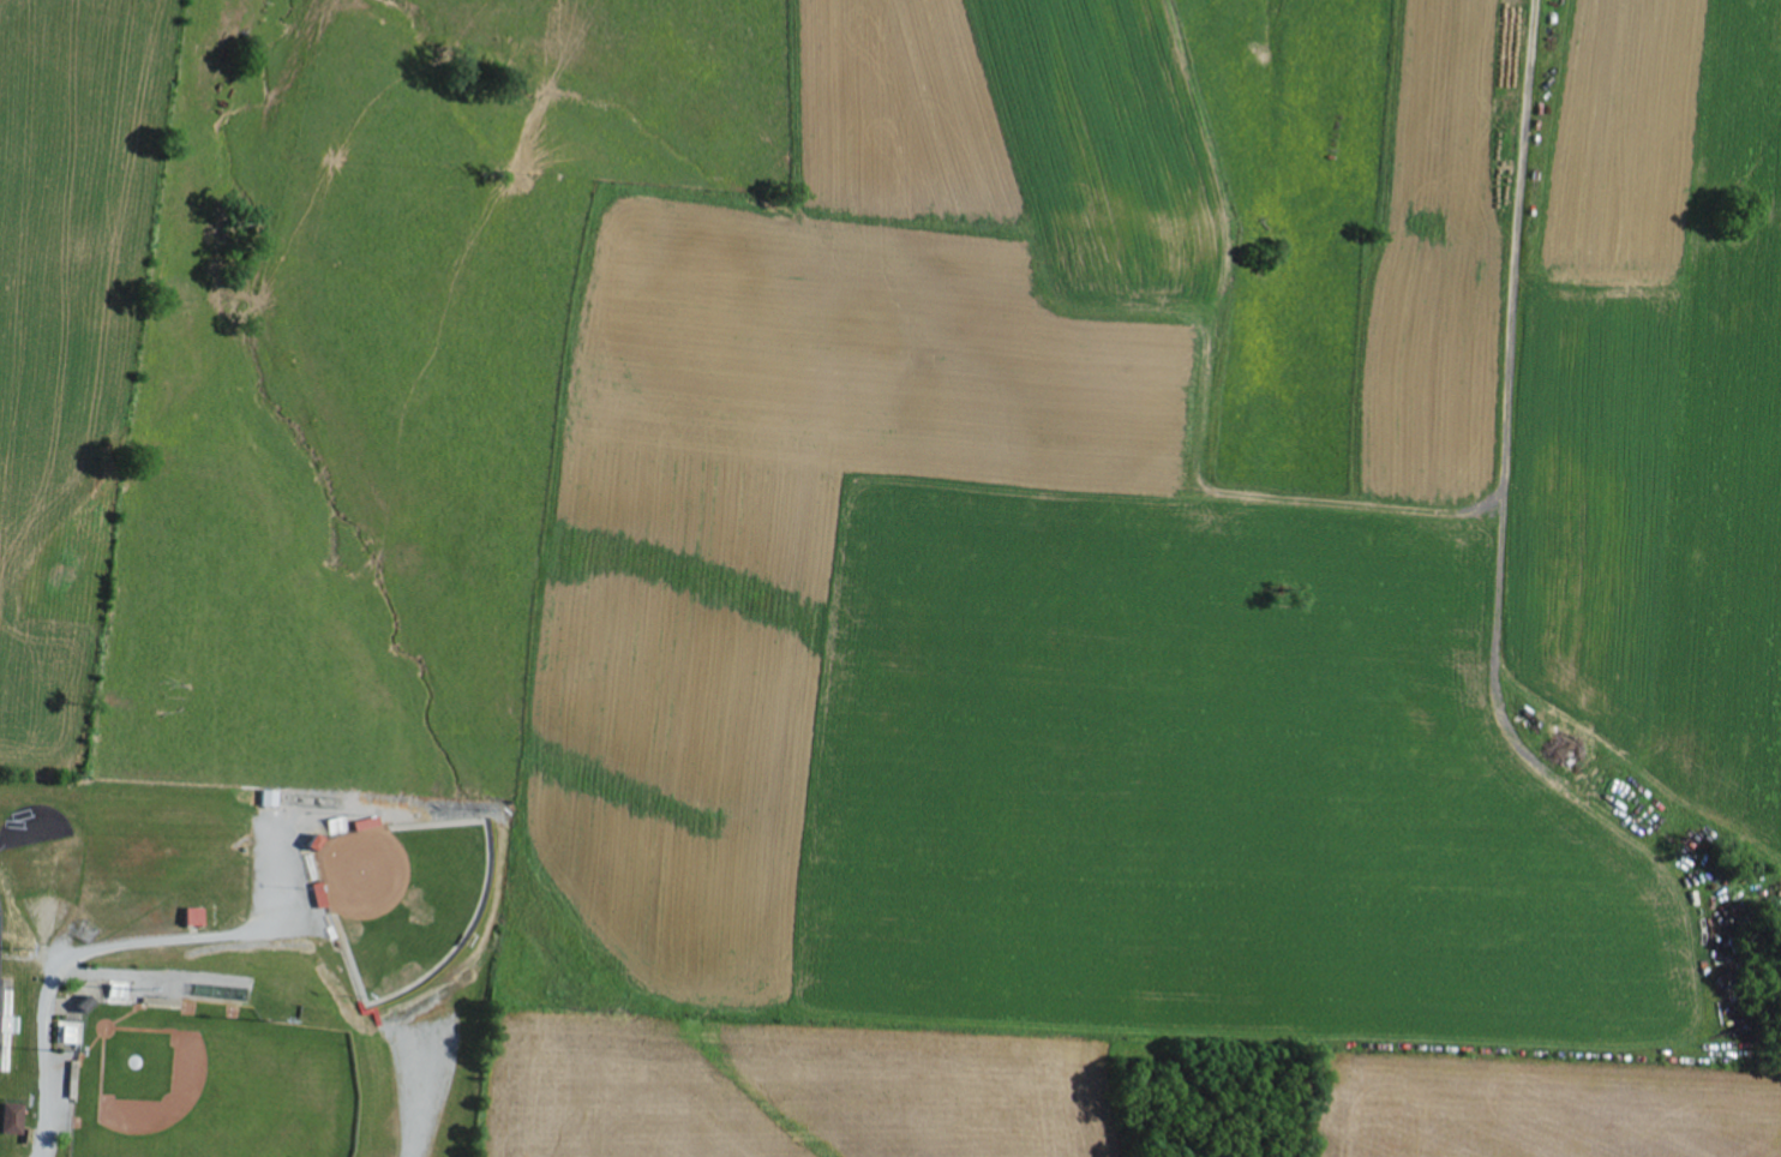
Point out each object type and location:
road: (1524, 133)
building: (271, 796)
park: (34, 832)
building: (199, 915)
building: (16, 1116)

